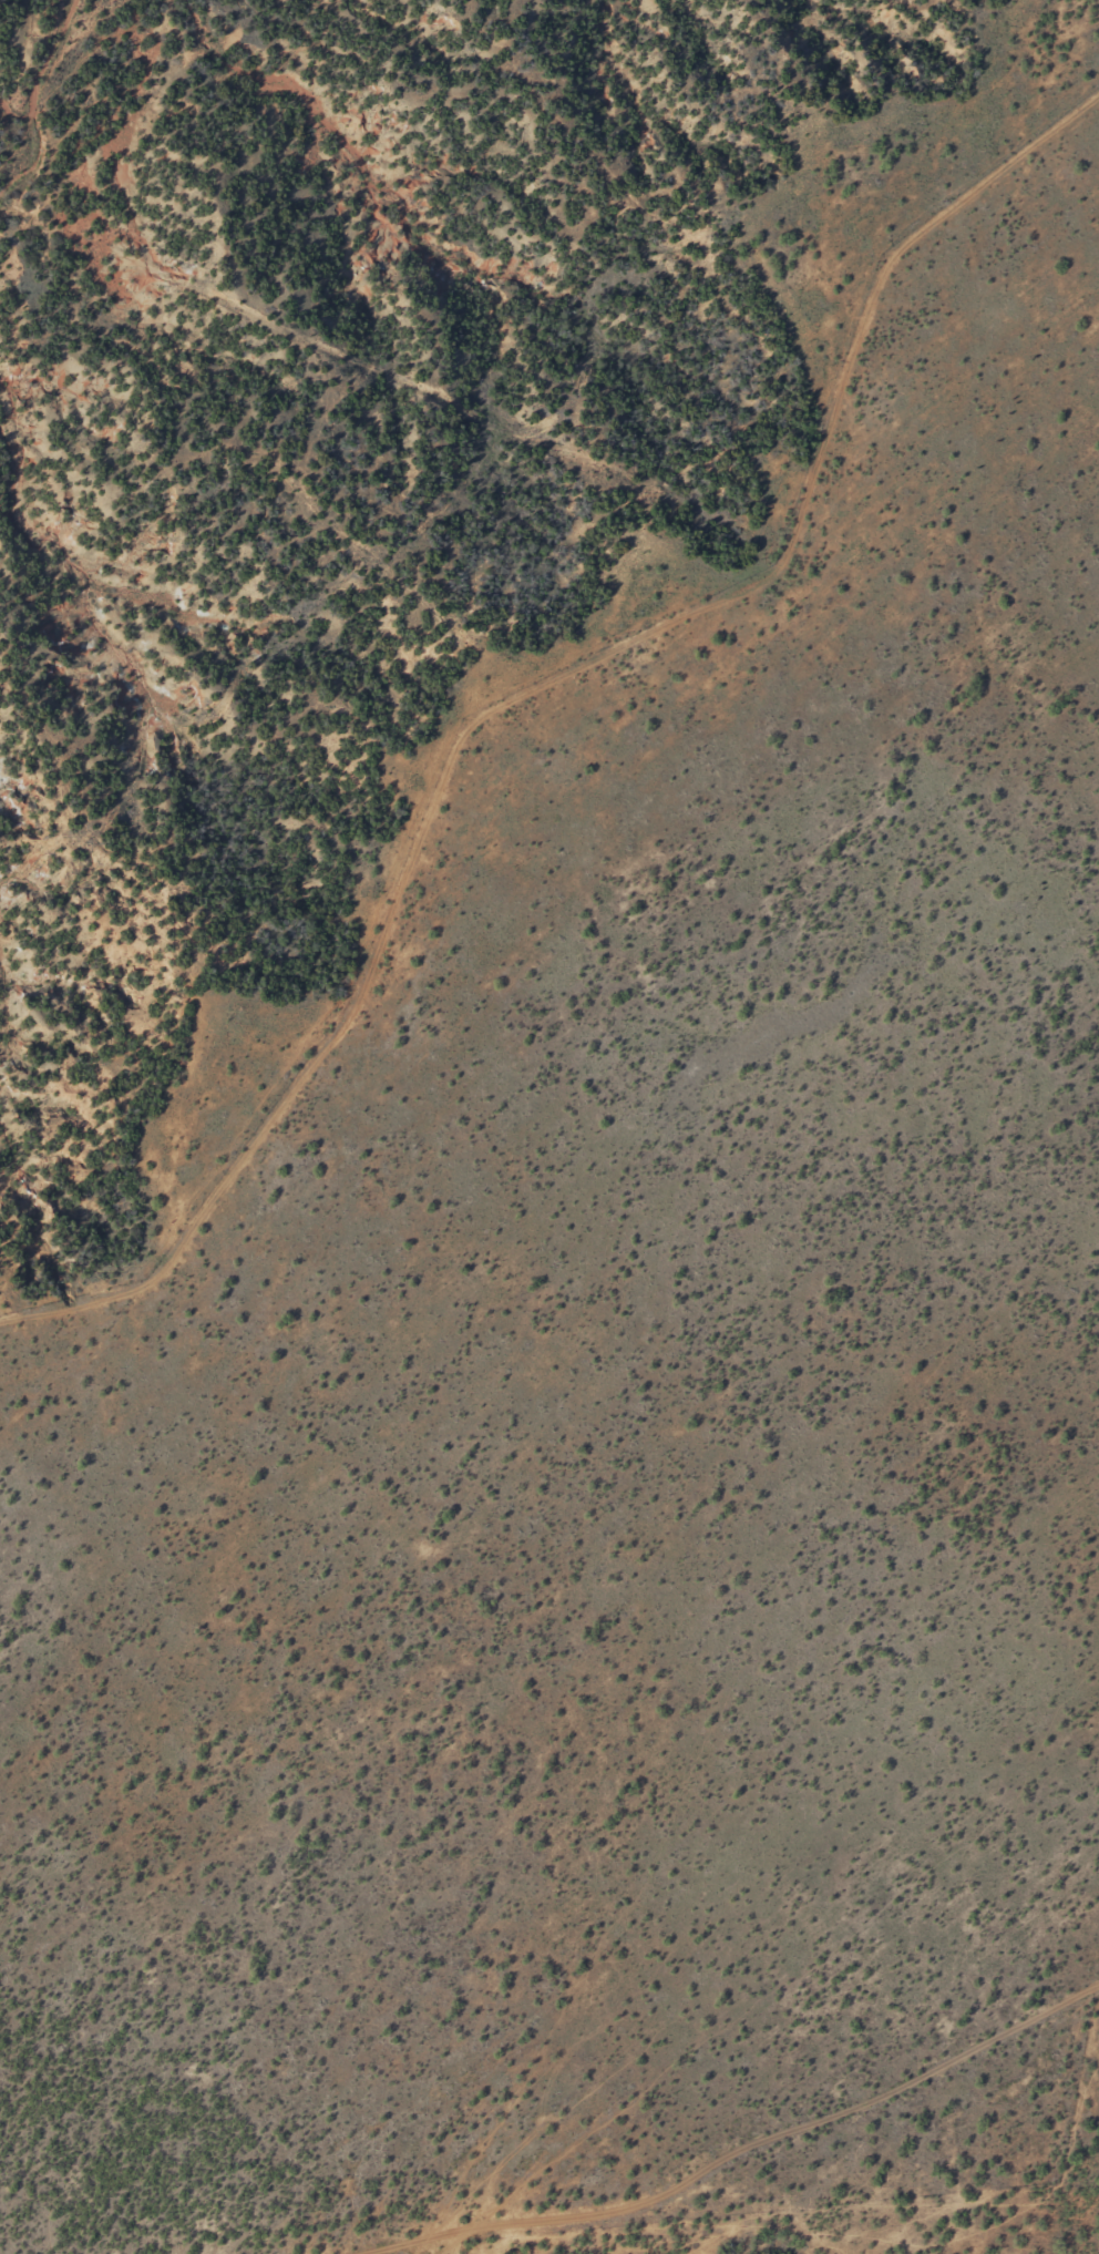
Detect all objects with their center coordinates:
road: (486, 858)
road: (740, 2222)

